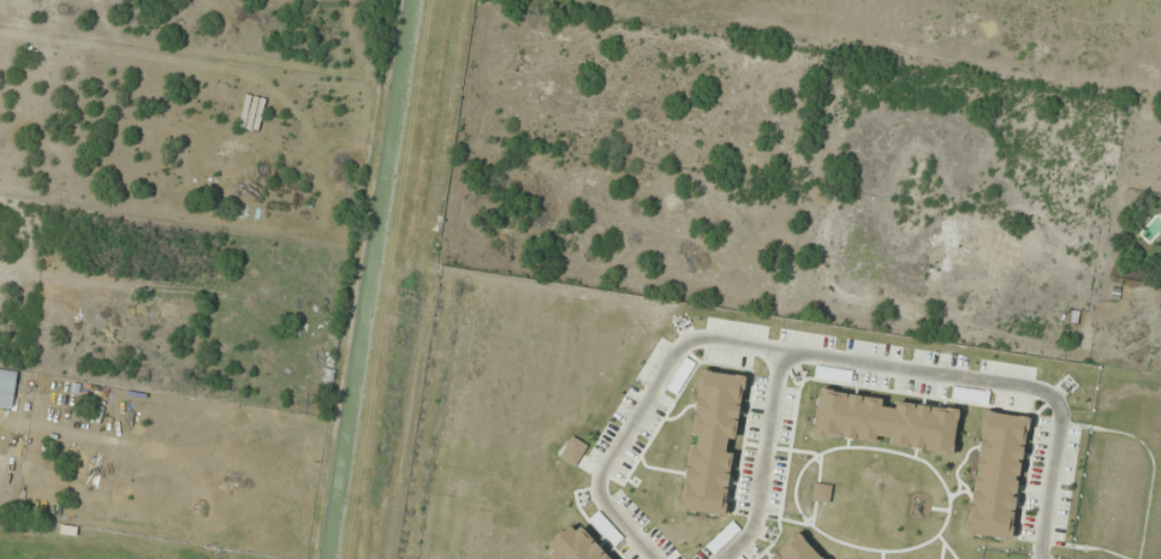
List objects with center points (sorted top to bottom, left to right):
building: (7, 388)

